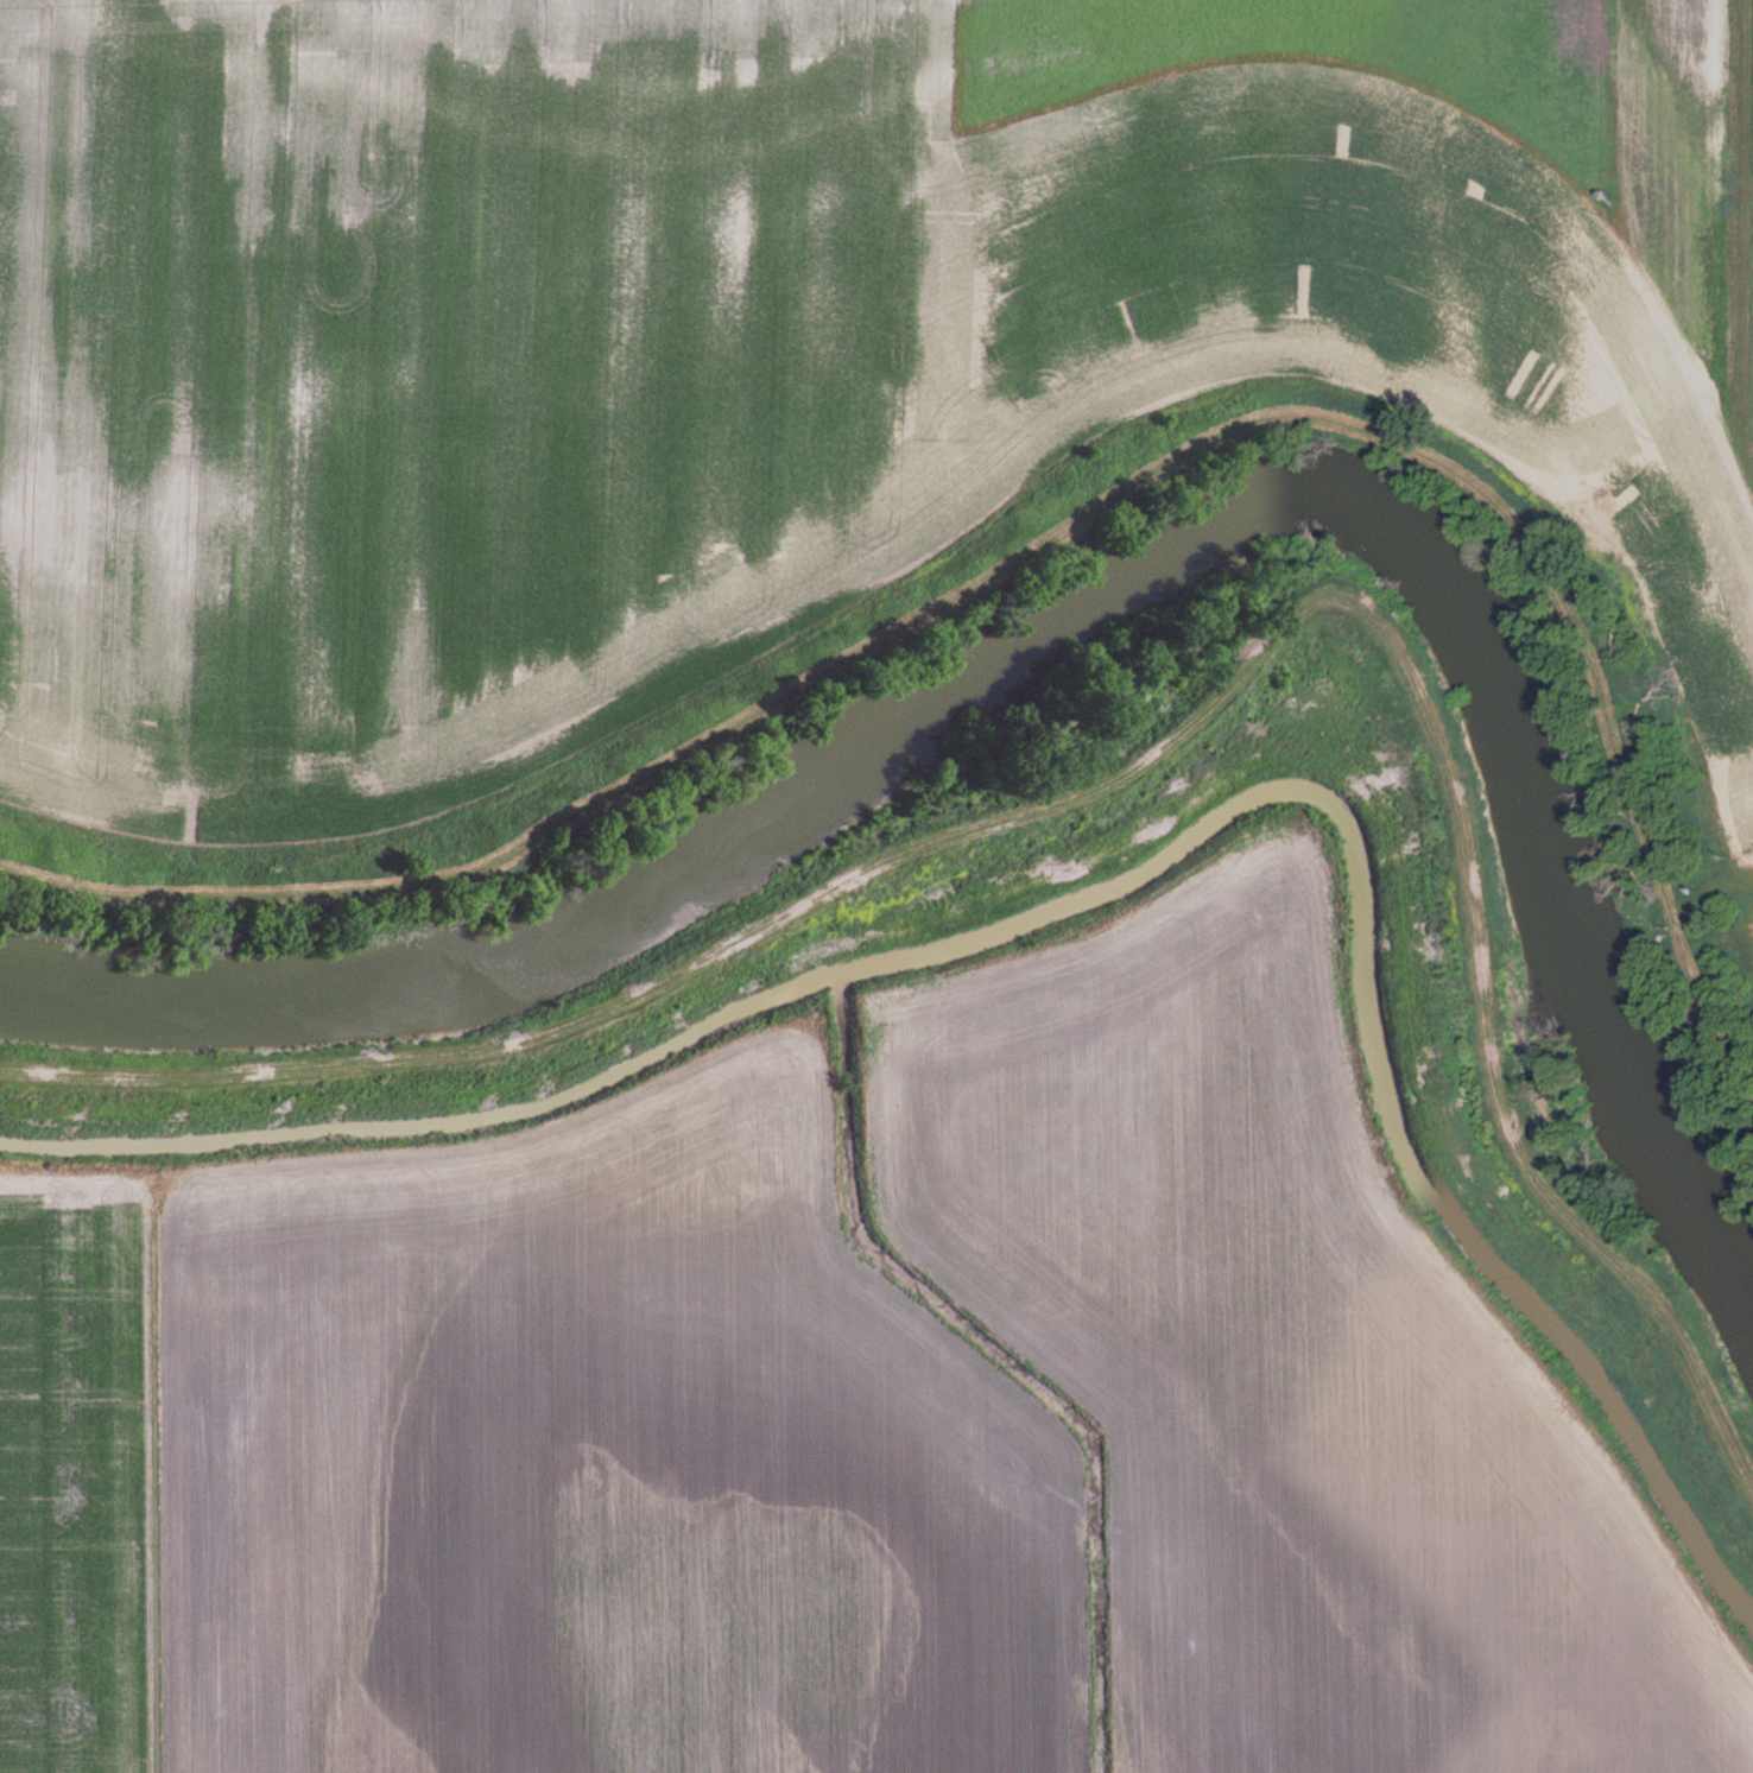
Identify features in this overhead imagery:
river: (1100, 596)
crop: (837, 1427)

